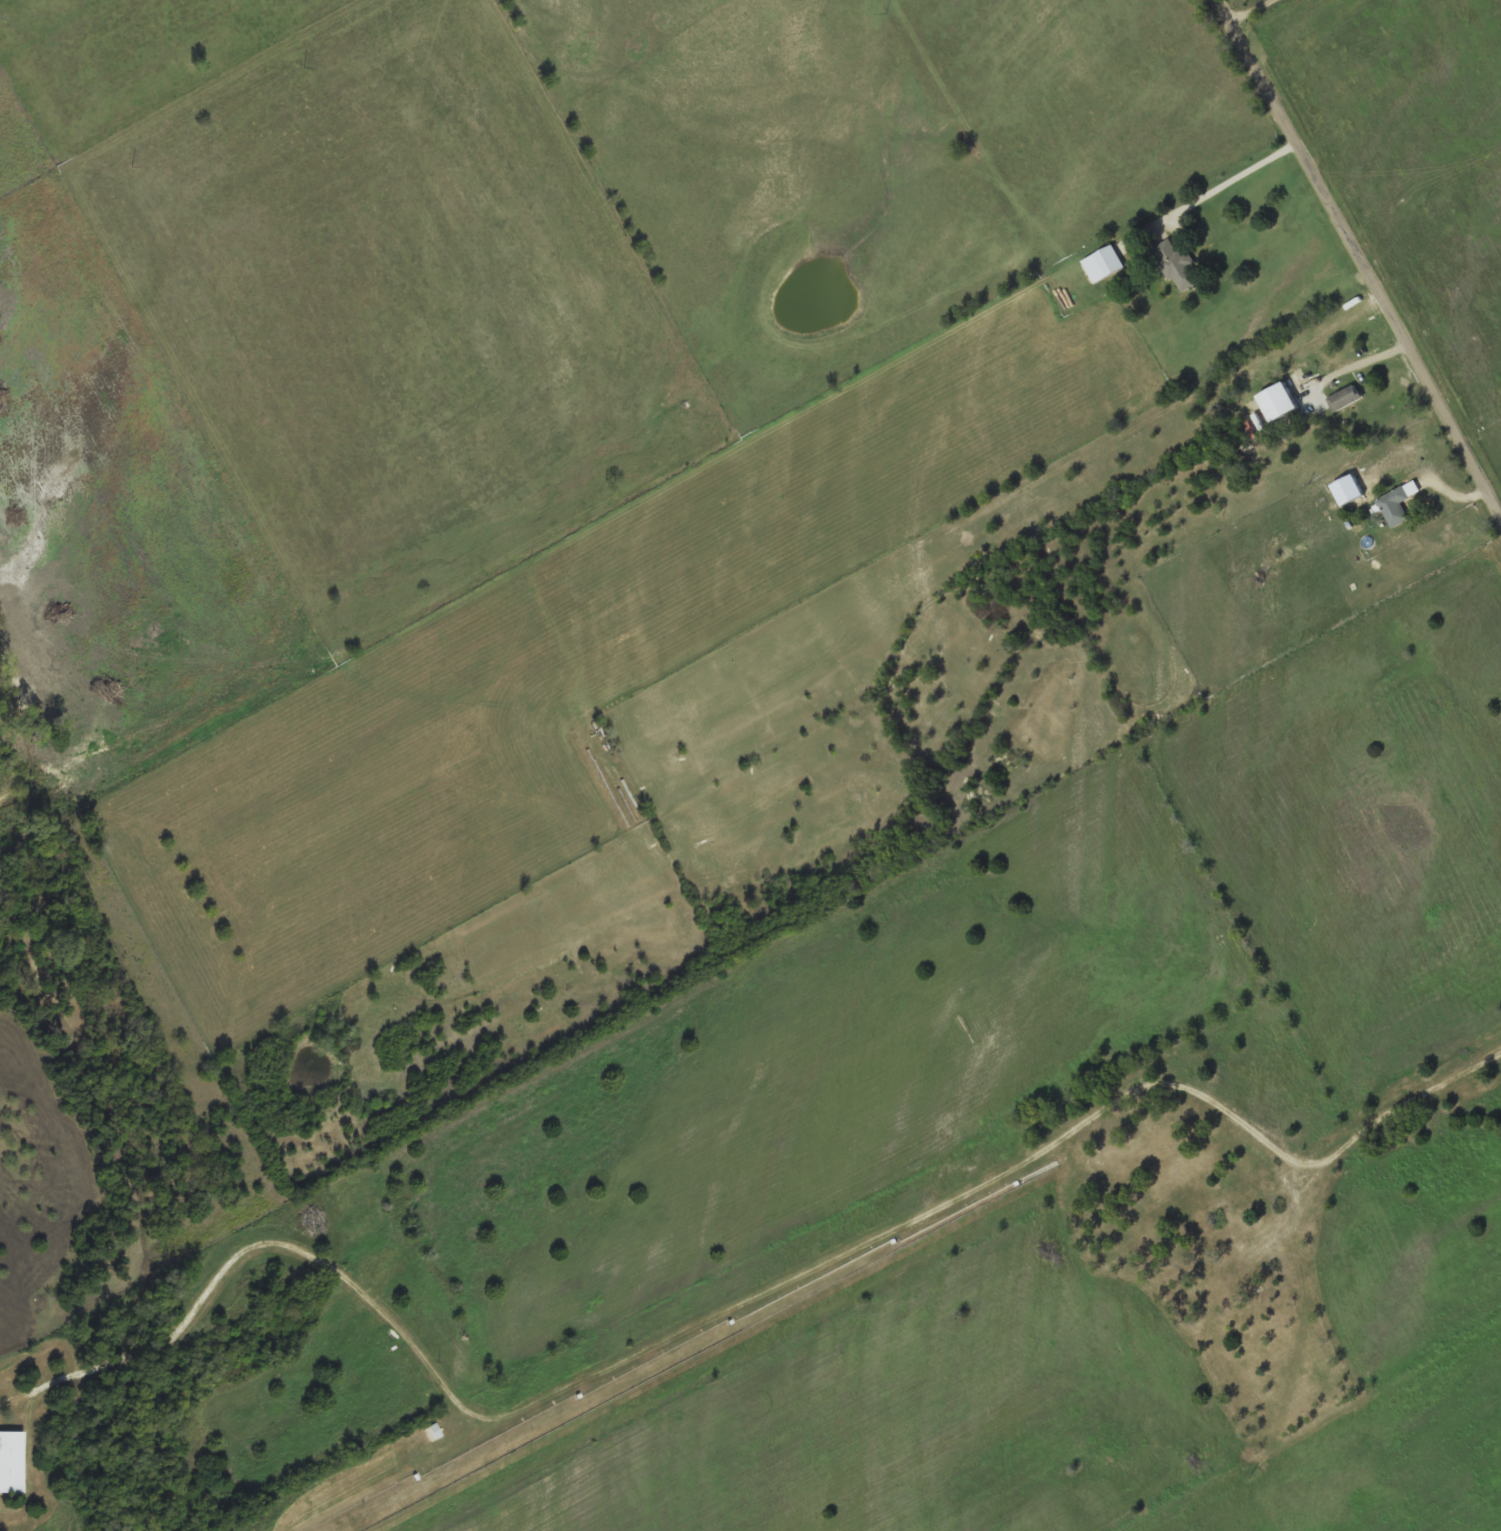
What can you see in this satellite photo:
road: (1359, 251)
building: (1104, 265)
building: (1179, 267)
building: (1344, 399)
building: (1260, 423)
building: (1398, 504)
road: (910, 1216)
building: (11, 1462)

